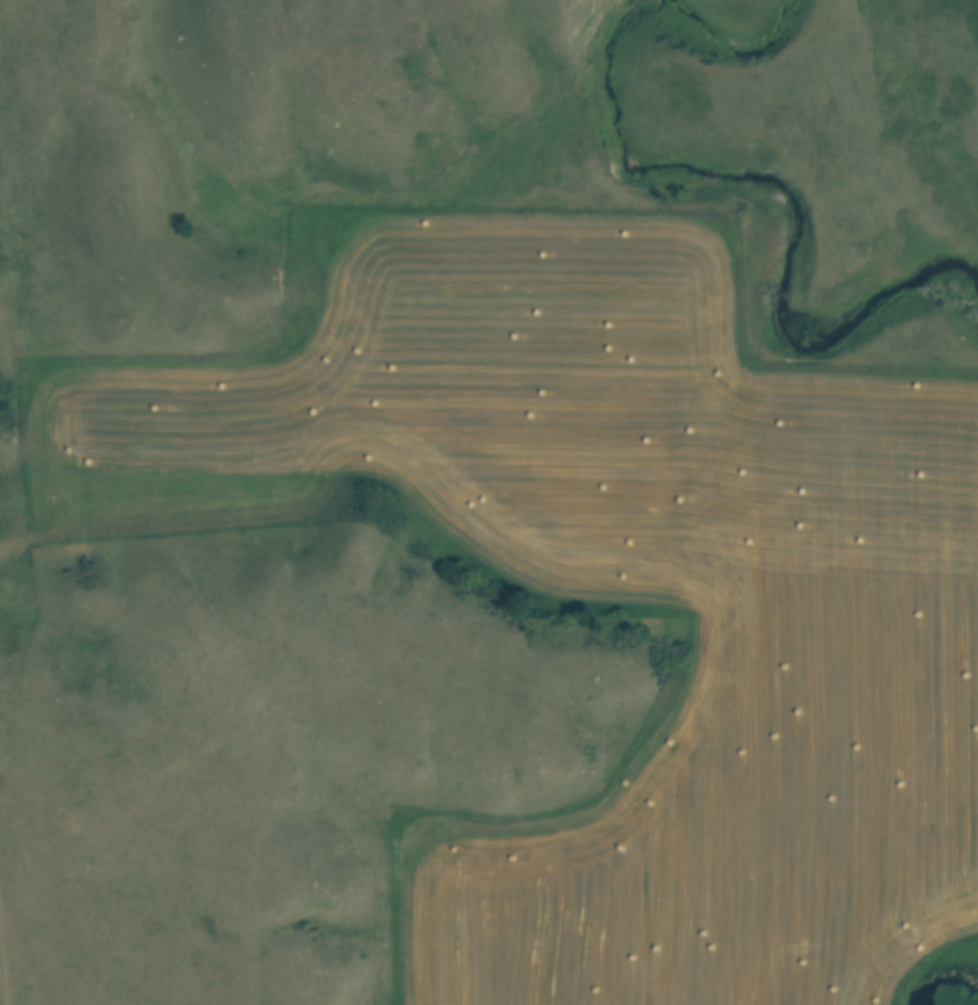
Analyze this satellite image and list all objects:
road: (1, 986)

